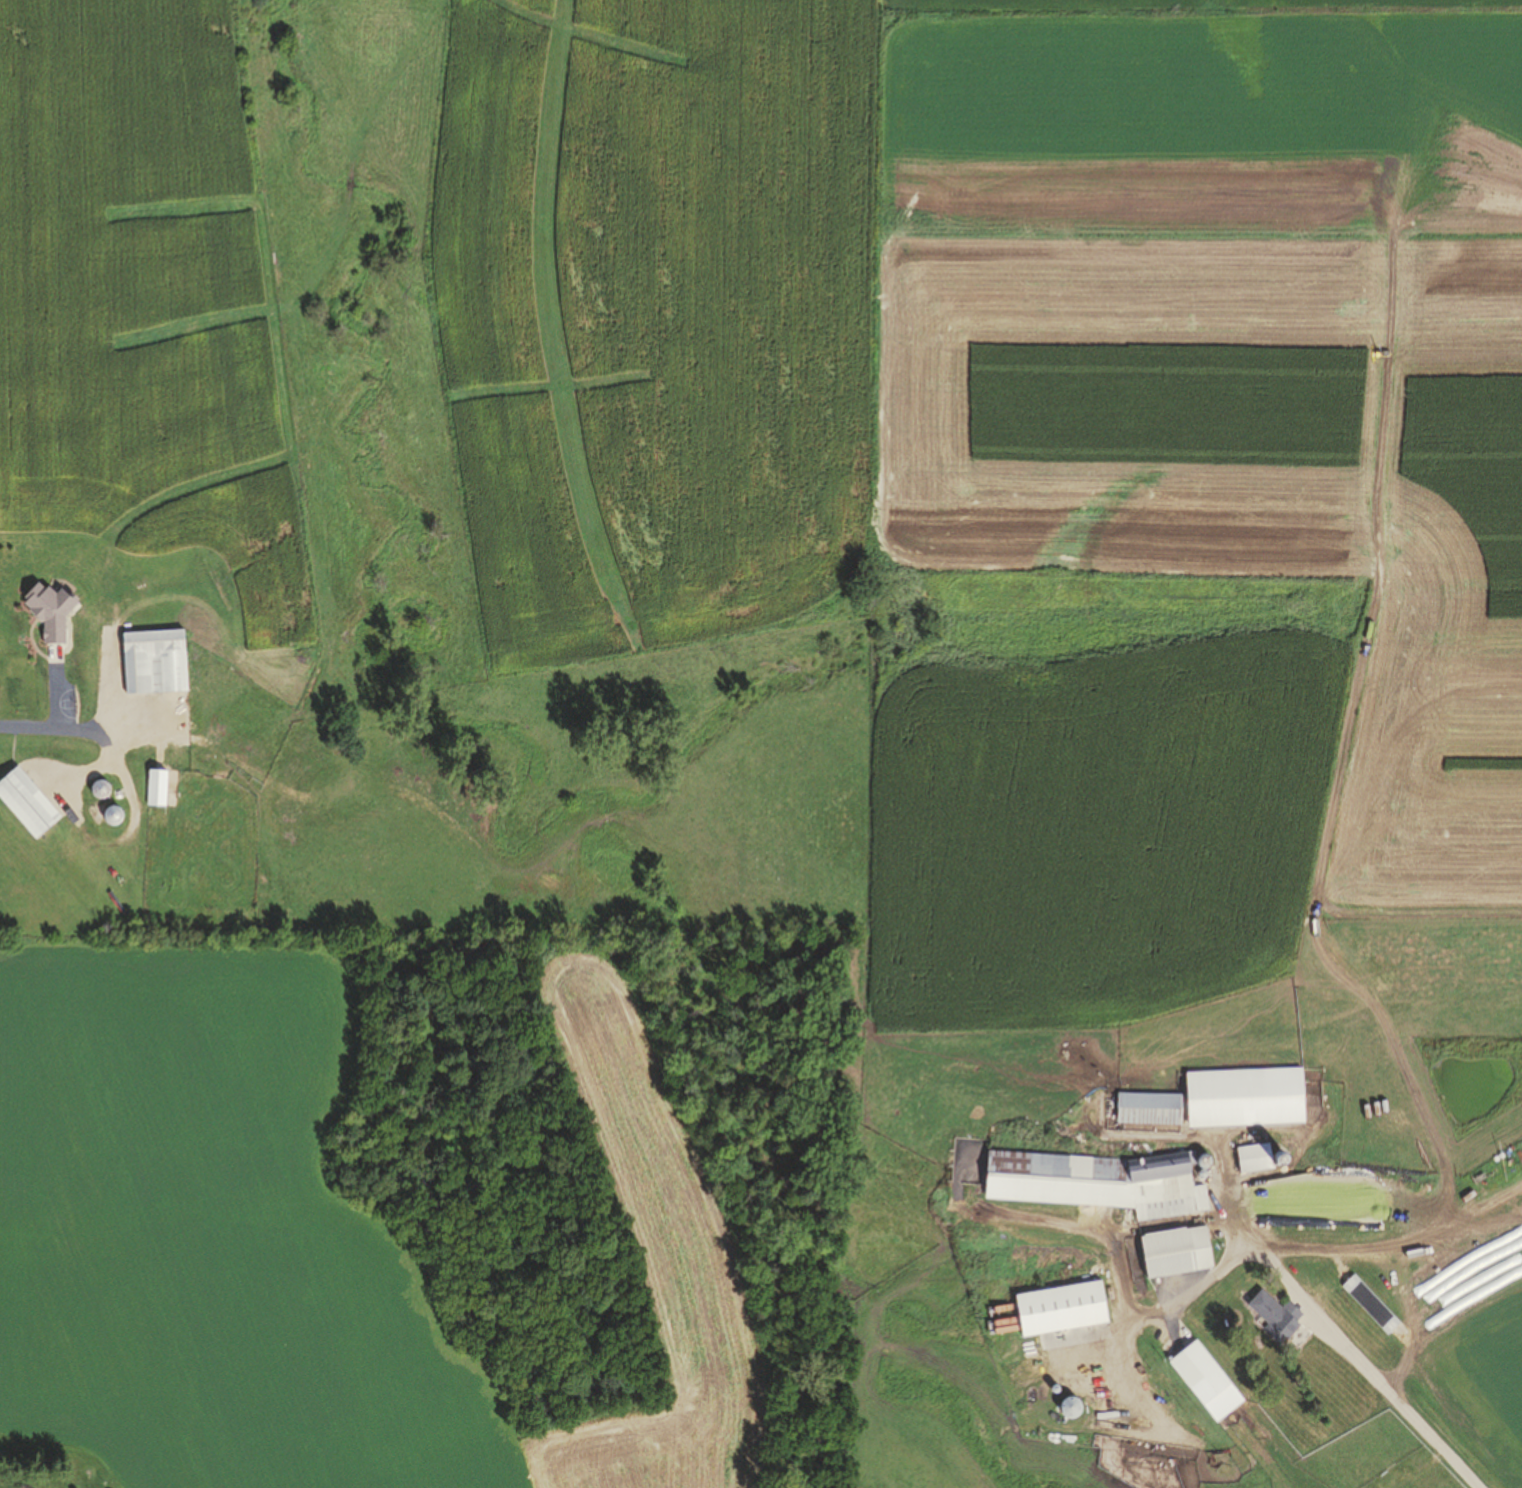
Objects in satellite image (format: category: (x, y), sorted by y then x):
building: (149, 661)
building: (10, 692)
building: (154, 788)
building: (97, 789)
building: (24, 803)
building: (1215, 1100)
building: (1257, 1159)
building: (1089, 1182)
building: (1487, 1183)
building: (1168, 1252)
building: (1361, 1297)
building: (1055, 1308)
building: (1270, 1316)
road: (1351, 1352)
building: (1200, 1380)

